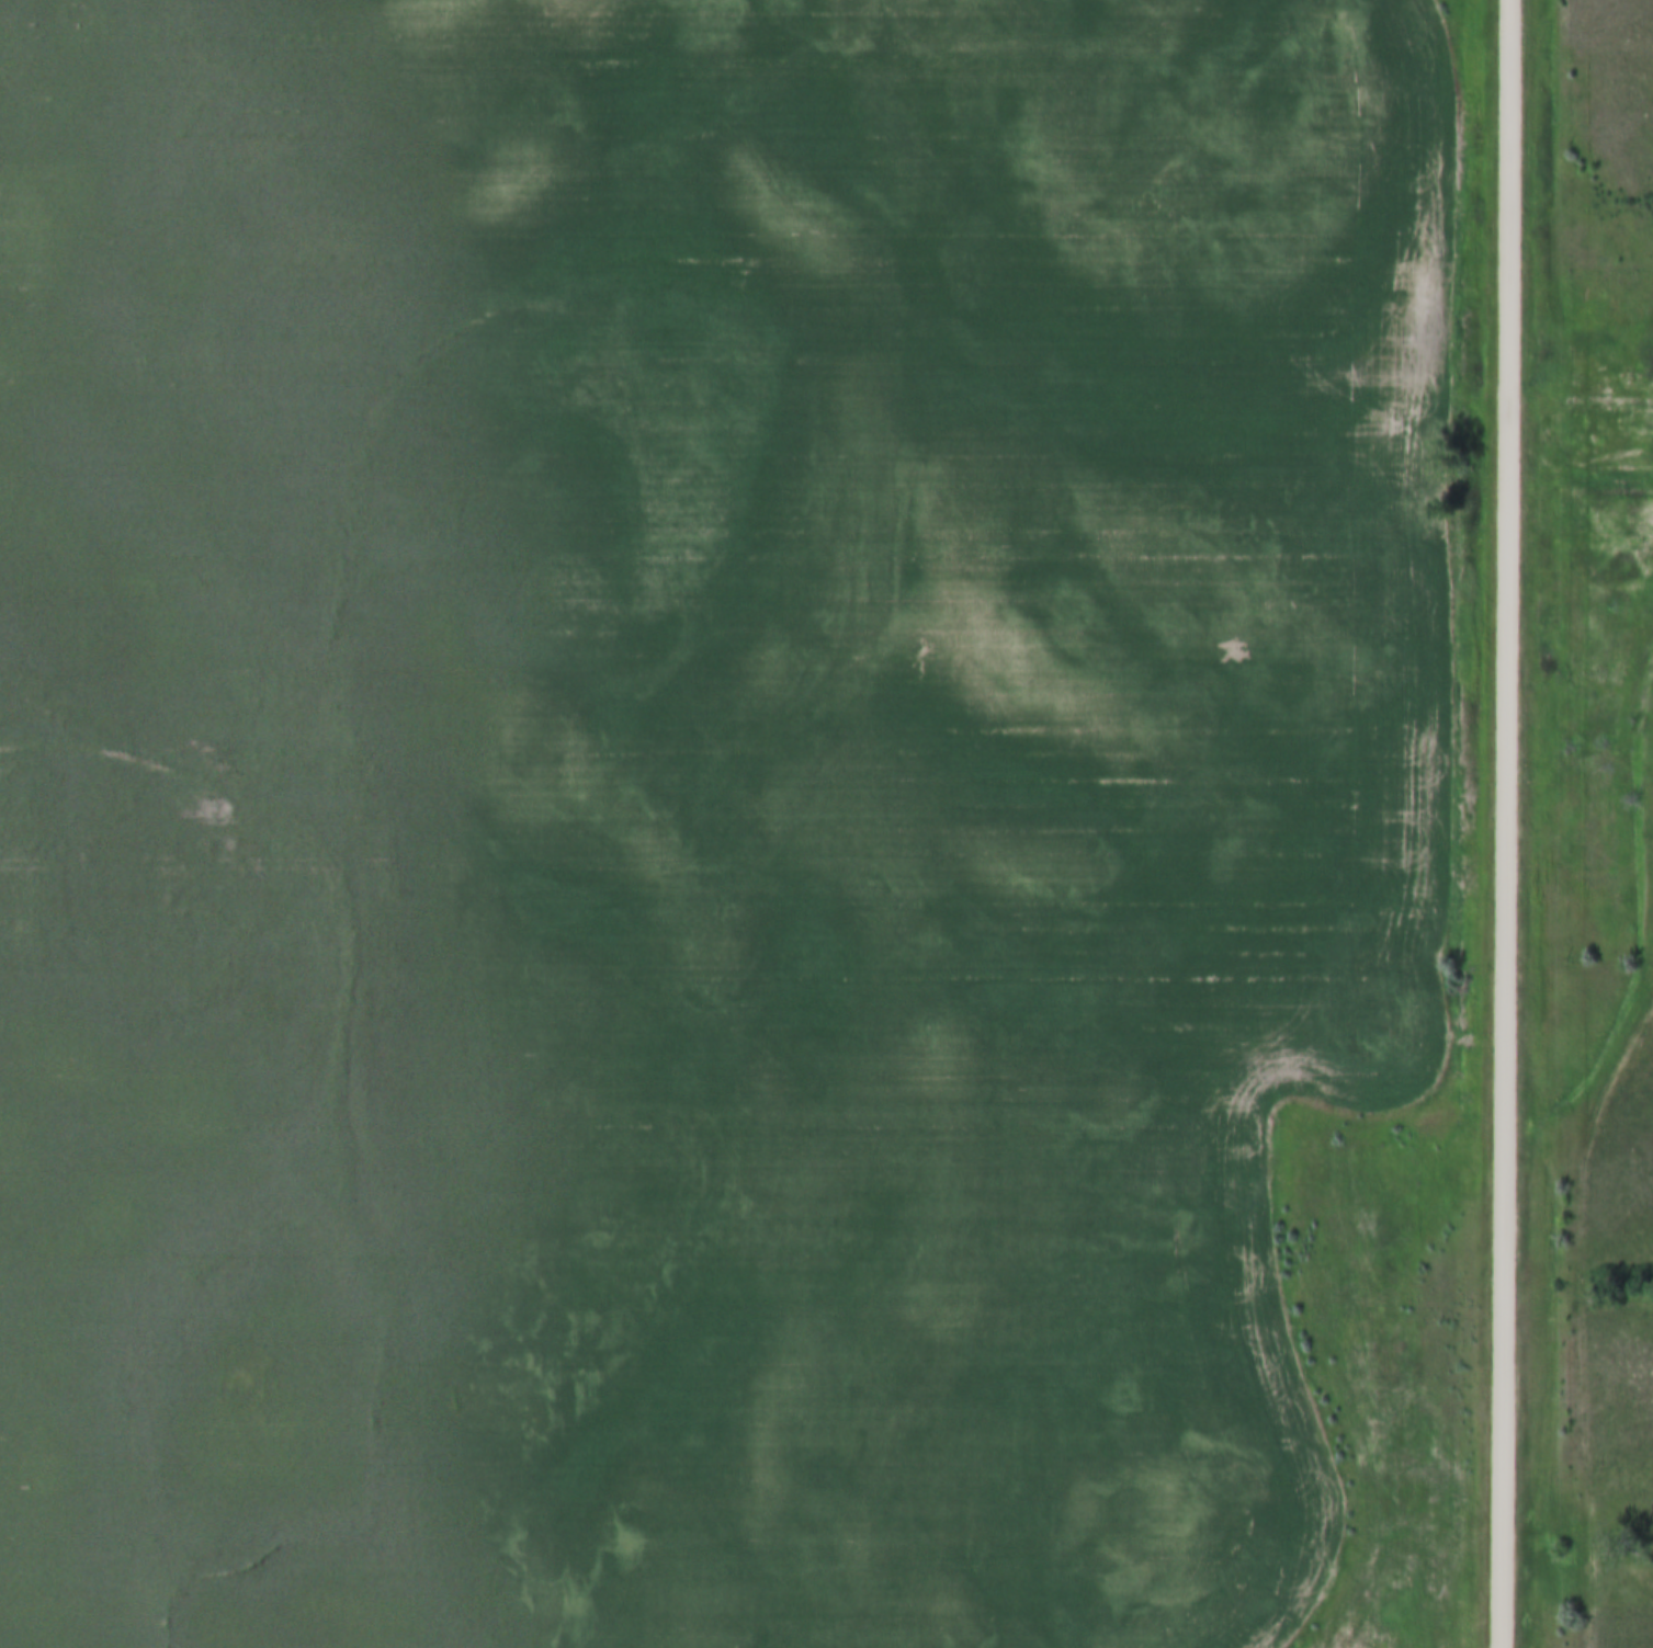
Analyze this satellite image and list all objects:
road: (1508, 823)

